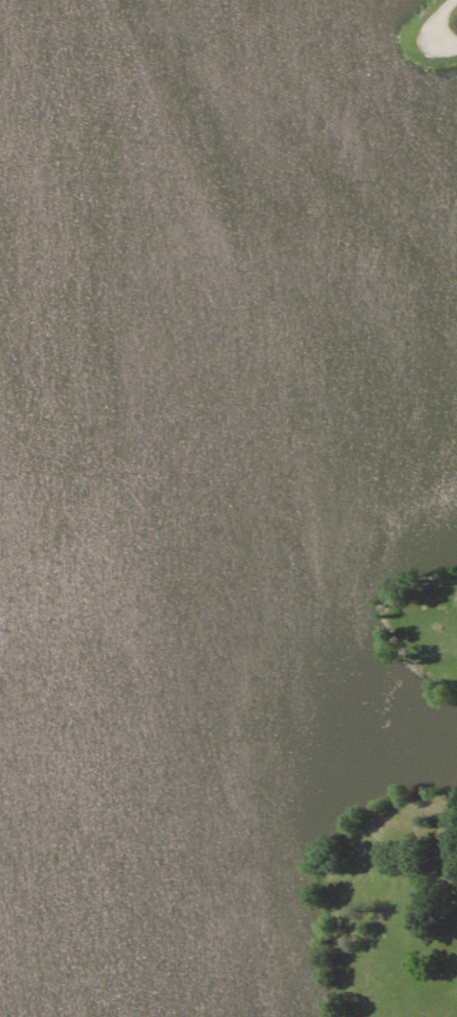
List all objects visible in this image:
road: (426, 38)
park: (228, 508)

